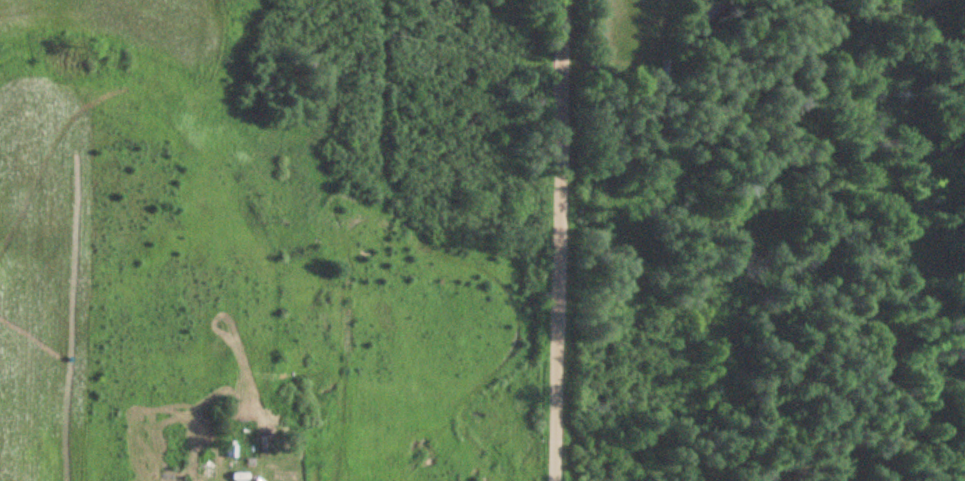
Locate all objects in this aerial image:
road: (572, 240)
building: (231, 451)

